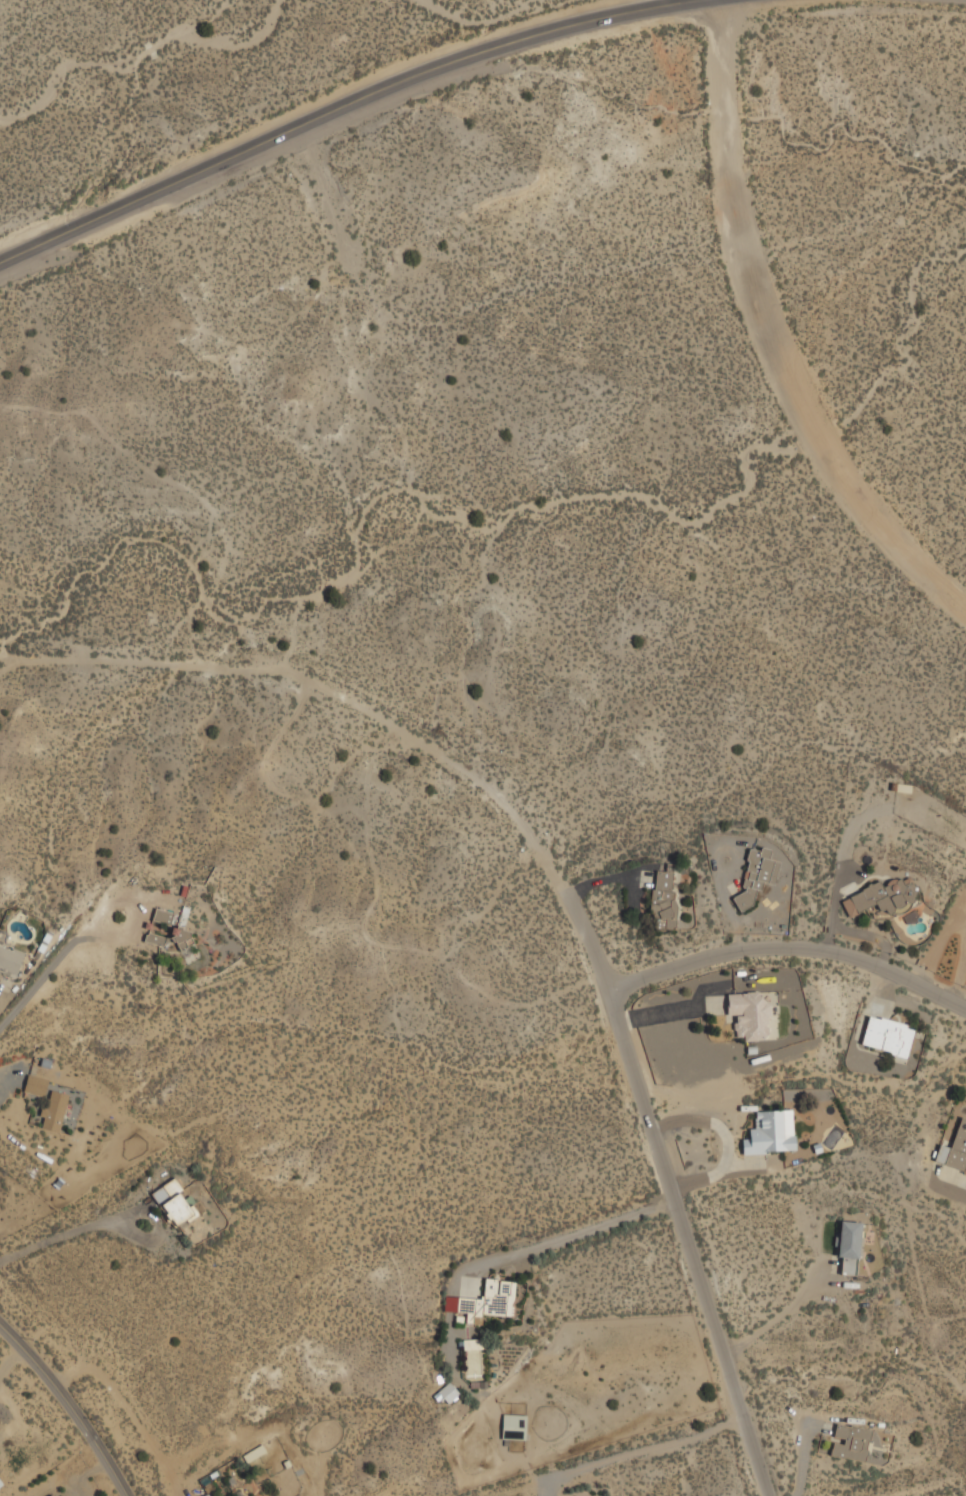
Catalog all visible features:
road: (336, 110)
road: (773, 334)
road: (280, 667)
building: (757, 874)
building: (661, 893)
building: (884, 895)
building: (163, 915)
building: (172, 938)
road: (791, 949)
building: (10, 959)
road: (41, 979)
building: (751, 1015)
building: (889, 1035)
building: (36, 1084)
building: (54, 1108)
building: (772, 1131)
road: (658, 1148)
building: (955, 1148)
building: (175, 1202)
road: (71, 1232)
building: (850, 1246)
road: (523, 1252)
building: (489, 1300)
road: (778, 1317)
building: (475, 1357)
building: (448, 1392)
road: (68, 1407)
building: (514, 1426)
building: (852, 1441)
building: (255, 1452)
building: (1, 1481)
building: (253, 1487)
building: (52, 1494)
building: (208, 1495)

